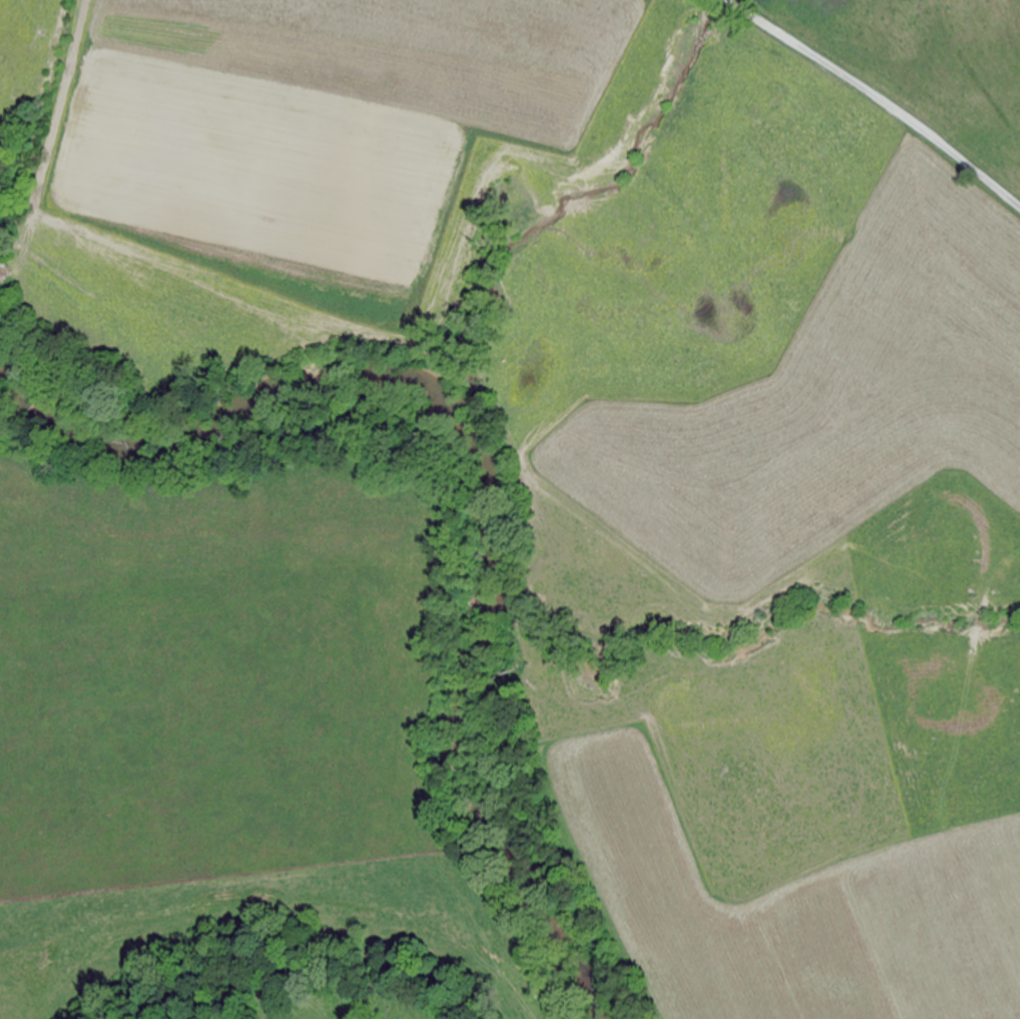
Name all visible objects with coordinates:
road: (876, 99)

